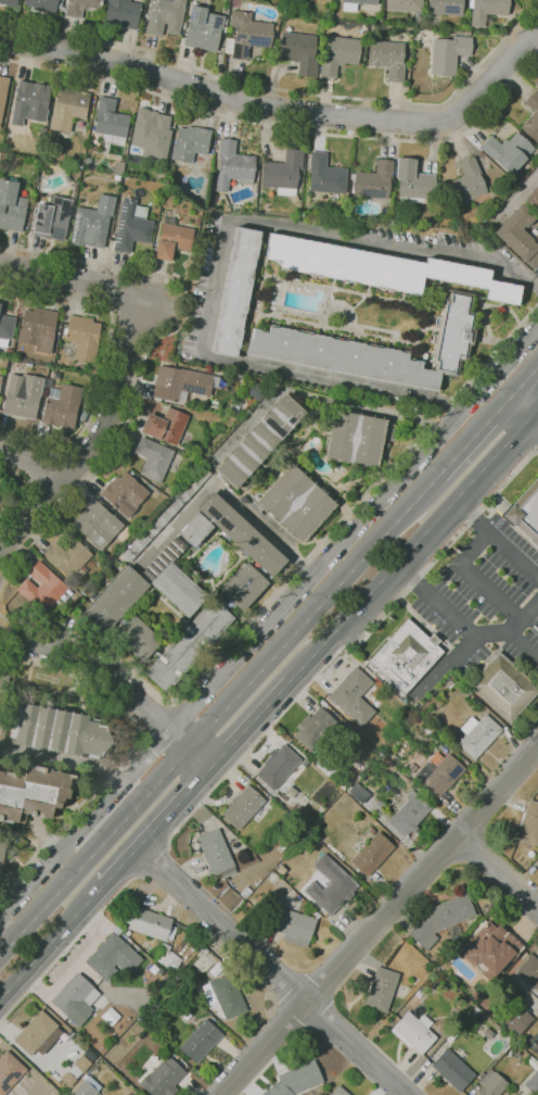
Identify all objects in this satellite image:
building: (326, 0)
building: (9, 2)
building: (355, 4)
building: (405, 4)
building: (41, 5)
building: (59, 5)
building: (80, 7)
building: (446, 7)
building: (486, 10)
building: (124, 12)
building: (164, 16)
building: (225, 22)
building: (183, 25)
building: (203, 29)
building: (223, 29)
building: (246, 35)
building: (300, 52)
building: (337, 54)
building: (448, 54)
building: (387, 58)
road: (496, 74)
building: (536, 83)
road: (286, 91)
building: (3, 92)
road: (223, 99)
building: (29, 102)
building: (67, 109)
building: (531, 118)
building: (110, 122)
road: (282, 128)
building: (152, 133)
building: (190, 143)
building: (508, 152)
building: (232, 166)
building: (282, 173)
building: (325, 175)
building: (117, 178)
building: (373, 180)
building: (212, 182)
building: (413, 182)
building: (466, 184)
building: (75, 191)
road: (516, 196)
building: (213, 198)
building: (533, 199)
building: (11, 206)
building: (259, 213)
building: (52, 218)
building: (92, 223)
building: (130, 225)
building: (520, 235)
building: (172, 239)
road: (222, 249)
building: (379, 268)
road: (75, 275)
building: (235, 291)
building: (5, 329)
building: (38, 329)
building: (81, 337)
building: (376, 349)
building: (8, 352)
road: (104, 358)
road: (144, 363)
building: (0, 378)
road: (526, 381)
building: (179, 383)
building: (255, 391)
building: (23, 395)
building: (88, 395)
building: (61, 405)
road: (525, 405)
road: (449, 411)
building: (82, 416)
building: (165, 426)
road: (93, 438)
building: (357, 438)
building: (259, 441)
road: (31, 456)
building: (153, 458)
building: (0, 487)
road: (24, 491)
building: (125, 494)
road: (226, 494)
building: (295, 502)
building: (525, 513)
building: (165, 514)
building: (98, 525)
road: (354, 529)
road: (496, 538)
road: (413, 545)
building: (69, 559)
road: (351, 570)
road: (289, 576)
road: (483, 586)
building: (42, 588)
building: (182, 592)
building: (113, 600)
road: (434, 602)
parking lot: (478, 602)
building: (137, 639)
road: (517, 643)
road: (350, 646)
road: (457, 654)
building: (406, 656)
road: (93, 667)
building: (503, 687)
building: (3, 689)
building: (353, 695)
road: (156, 718)
road: (249, 726)
building: (313, 730)
building: (56, 731)
building: (477, 734)
road: (180, 740)
road: (513, 743)
road: (514, 746)
road: (128, 753)
road: (200, 758)
building: (355, 764)
building: (278, 766)
building: (350, 771)
building: (438, 773)
building: (291, 791)
building: (33, 793)
building: (425, 798)
building: (307, 806)
building: (242, 807)
building: (413, 809)
building: (529, 825)
road: (157, 827)
building: (371, 832)
road: (76, 833)
building: (2, 853)
road: (94, 853)
building: (216, 853)
building: (372, 854)
road: (69, 860)
road: (156, 860)
road: (498, 871)
building: (330, 885)
building: (245, 892)
road: (379, 920)
building: (294, 921)
building: (445, 921)
building: (149, 923)
building: (126, 932)
road: (52, 941)
road: (69, 946)
building: (489, 951)
building: (167, 957)
building: (113, 958)
road: (272, 970)
building: (527, 976)
building: (198, 983)
building: (381, 990)
building: (225, 995)
building: (75, 999)
building: (474, 1012)
building: (185, 1016)
building: (518, 1021)
building: (414, 1032)
building: (38, 1033)
building: (201, 1042)
road: (23, 1062)
building: (81, 1063)
building: (37, 1068)
building: (452, 1070)
building: (10, 1071)
building: (74, 1072)
building: (300, 1078)
building: (67, 1079)
building: (163, 1079)
building: (533, 1083)
building: (491, 1084)
road: (41, 1090)
building: (84, 1090)
building: (277, 1090)
building: (338, 1092)
building: (127, 1094)

